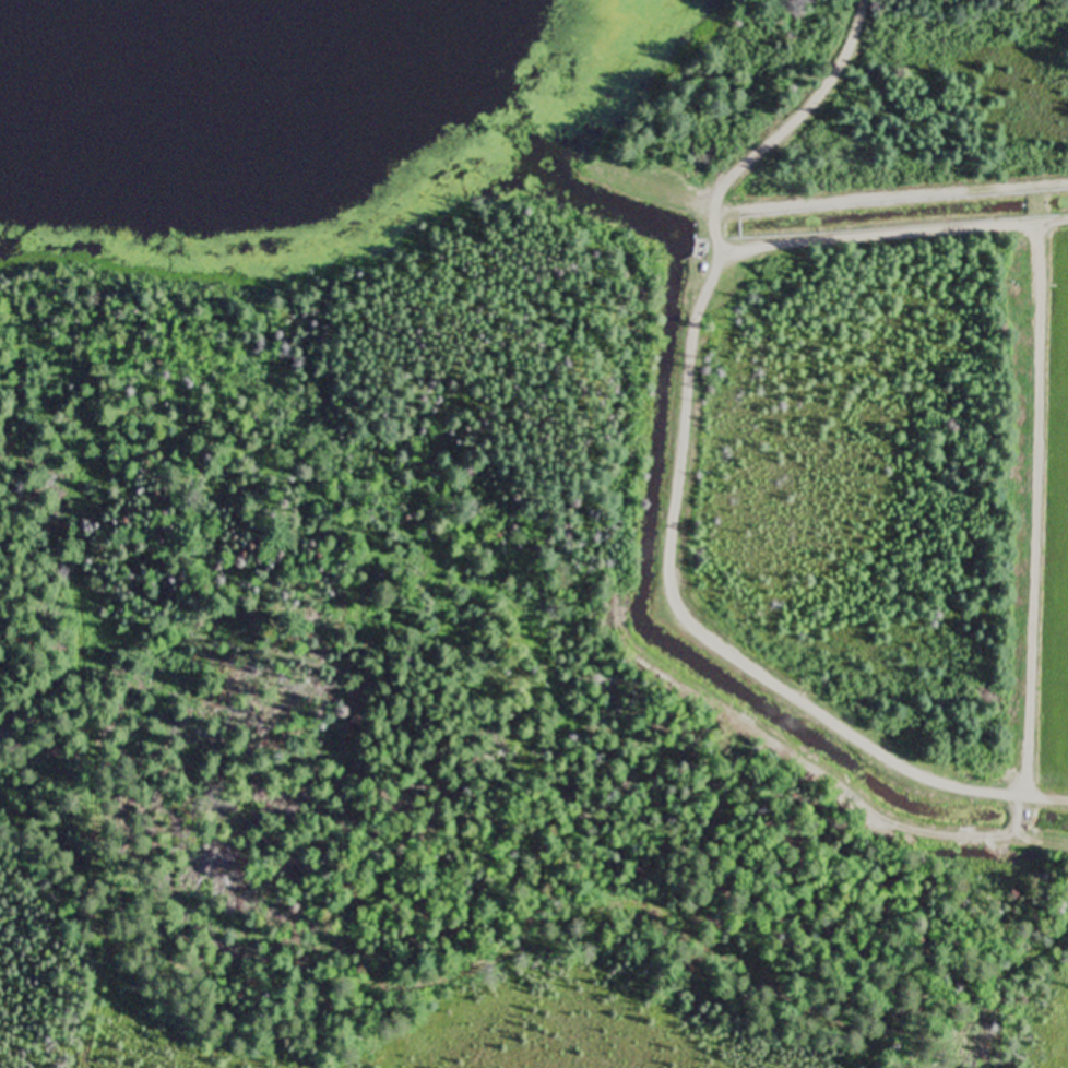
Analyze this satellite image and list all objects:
crop: (1053, 542)

